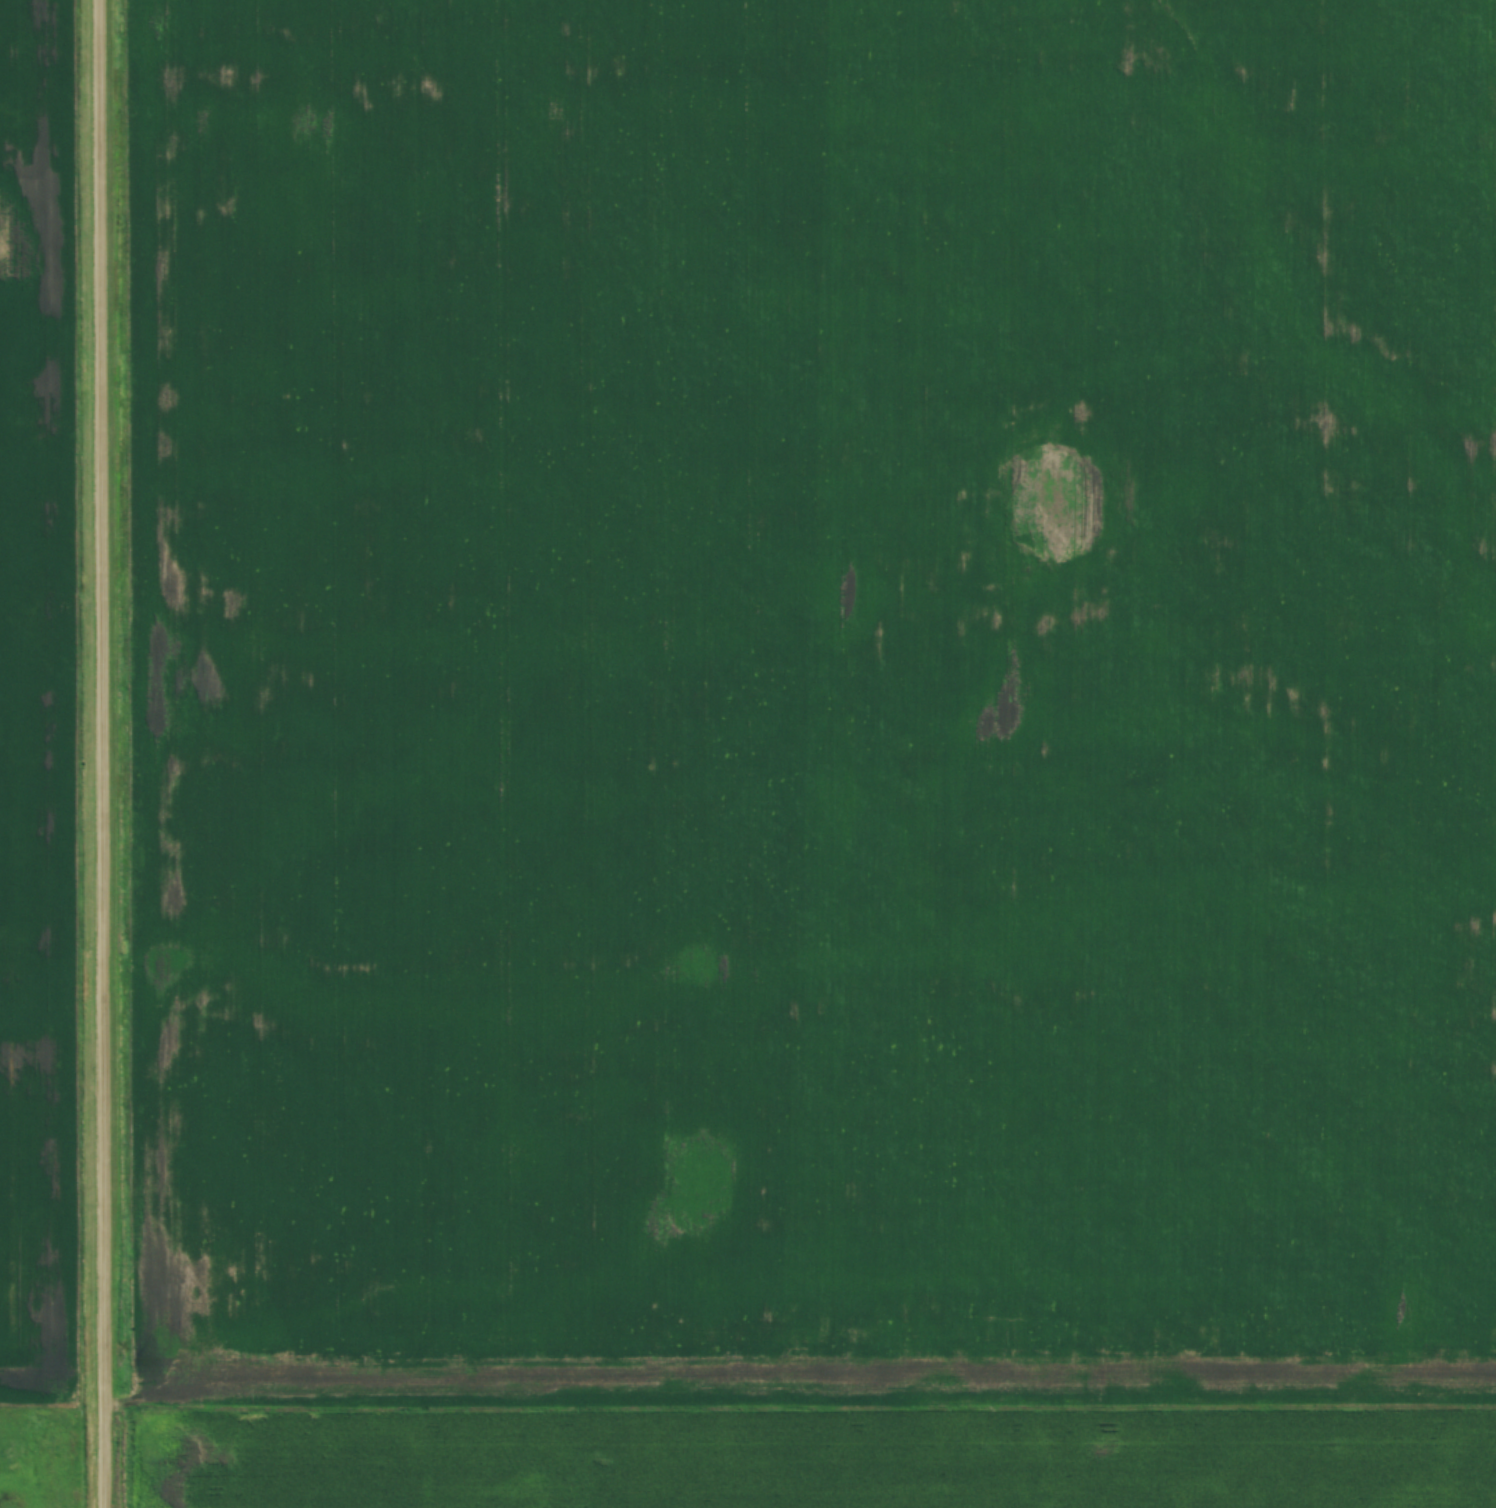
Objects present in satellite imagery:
road: (100, 753)

